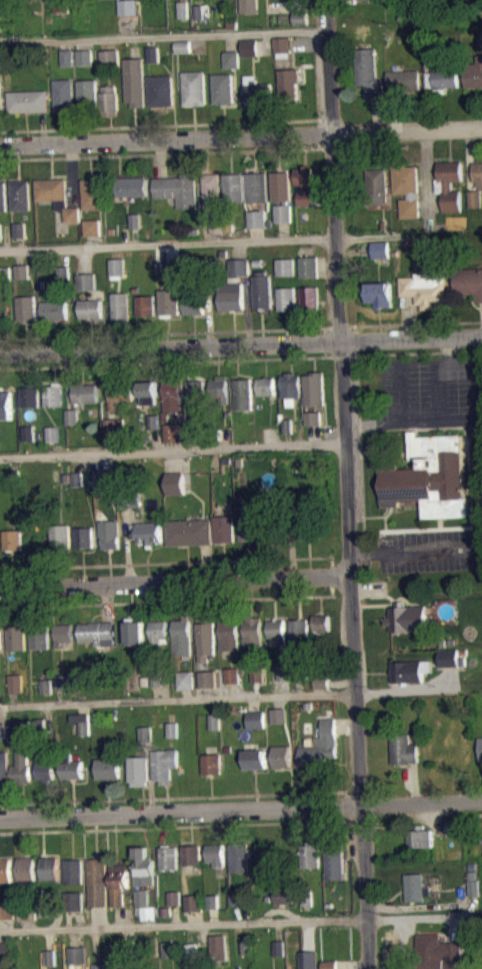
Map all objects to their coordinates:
building: (369, 0)
building: (110, 2)
building: (248, 5)
road: (298, 5)
building: (61, 6)
building: (128, 7)
building: (182, 8)
building: (198, 11)
building: (300, 17)
building: (231, 24)
building: (301, 24)
road: (163, 36)
building: (481, 38)
road: (109, 43)
road: (309, 43)
road: (67, 44)
road: (83, 44)
road: (265, 44)
building: (182, 46)
building: (282, 46)
road: (134, 47)
building: (249, 47)
building: (183, 52)
building: (152, 53)
building: (83, 56)
building: (67, 57)
building: (109, 58)
building: (230, 59)
building: (1, 60)
building: (85, 63)
building: (0, 67)
building: (369, 73)
building: (474, 74)
building: (441, 79)
building: (402, 80)
building: (134, 81)
building: (288, 84)
building: (194, 88)
building: (222, 88)
building: (160, 90)
building: (256, 90)
building: (1, 94)
building: (87, 94)
building: (63, 95)
building: (108, 101)
building: (28, 102)
road: (430, 109)
road: (393, 112)
road: (376, 115)
road: (160, 124)
road: (321, 133)
road: (241, 136)
road: (161, 152)
road: (159, 158)
road: (469, 159)
building: (477, 174)
road: (71, 175)
road: (426, 178)
building: (304, 184)
building: (449, 184)
building: (131, 187)
building: (233, 187)
building: (376, 187)
building: (256, 188)
building: (407, 188)
building: (177, 189)
building: (211, 193)
building: (91, 194)
building: (281, 194)
building: (2, 196)
building: (20, 196)
building: (56, 197)
road: (323, 197)
building: (475, 198)
road: (349, 199)
road: (435, 203)
road: (423, 208)
building: (257, 218)
building: (134, 220)
building: (456, 222)
building: (215, 224)
road: (437, 226)
building: (91, 227)
building: (19, 228)
road: (283, 229)
building: (0, 230)
road: (257, 233)
building: (19, 236)
road: (92, 241)
road: (20, 242)
road: (168, 243)
building: (381, 248)
road: (238, 249)
road: (355, 250)
road: (171, 252)
road: (84, 259)
building: (257, 262)
building: (239, 266)
building: (308, 266)
road: (327, 266)
building: (117, 267)
building: (285, 267)
building: (171, 268)
building: (21, 270)
building: (5, 272)
building: (62, 272)
building: (22, 277)
building: (63, 280)
building: (86, 281)
building: (469, 283)
building: (208, 284)
building: (262, 289)
building: (426, 289)
building: (230, 295)
building: (380, 295)
building: (310, 297)
building: (286, 298)
building: (167, 302)
building: (193, 303)
building: (120, 305)
building: (144, 305)
building: (25, 307)
building: (89, 308)
road: (247, 308)
building: (54, 310)
building: (4, 313)
road: (408, 316)
road: (209, 319)
road: (411, 322)
road: (170, 333)
road: (356, 340)
road: (324, 341)
road: (241, 344)
road: (419, 352)
road: (171, 361)
road: (67, 379)
building: (265, 385)
building: (290, 387)
building: (314, 387)
road: (438, 387)
building: (219, 389)
building: (147, 391)
building: (195, 391)
building: (85, 392)
building: (119, 392)
building: (242, 392)
building: (52, 393)
road: (401, 393)
parking lot: (433, 393)
building: (29, 394)
building: (172, 394)
building: (6, 403)
building: (71, 415)
building: (313, 417)
road: (467, 419)
building: (152, 421)
building: (113, 425)
building: (288, 425)
building: (153, 429)
building: (196, 431)
building: (171, 432)
building: (28, 433)
building: (52, 433)
road: (314, 434)
road: (360, 446)
road: (173, 449)
building: (226, 460)
building: (239, 461)
building: (431, 476)
building: (66, 477)
building: (76, 478)
building: (98, 478)
building: (174, 482)
road: (347, 484)
road: (469, 492)
building: (129, 497)
building: (125, 507)
road: (383, 516)
road: (439, 522)
building: (305, 526)
building: (224, 527)
road: (386, 527)
building: (260, 529)
building: (188, 531)
building: (109, 532)
building: (149, 532)
building: (60, 536)
building: (83, 537)
building: (12, 539)
road: (127, 545)
road: (415, 549)
parking lot: (430, 549)
road: (293, 557)
road: (275, 559)
road: (165, 561)
road: (206, 562)
road: (332, 575)
road: (175, 582)
road: (367, 587)
road: (166, 601)
road: (107, 603)
building: (408, 617)
building: (322, 622)
building: (134, 630)
building: (253, 630)
building: (277, 630)
building: (300, 630)
building: (158, 631)
building: (97, 633)
building: (62, 634)
building: (229, 634)
building: (39, 636)
building: (16, 637)
building: (181, 637)
building: (205, 637)
building: (1, 641)
building: (451, 657)
building: (411, 669)
building: (285, 671)
building: (300, 671)
building: (257, 673)
building: (232, 674)
building: (156, 678)
building: (207, 678)
building: (186, 679)
road: (342, 680)
building: (143, 681)
building: (322, 681)
building: (16, 682)
building: (62, 682)
building: (46, 686)
road: (285, 687)
road: (299, 687)
road: (256, 688)
road: (234, 689)
building: (47, 692)
road: (156, 692)
road: (208, 692)
road: (187, 694)
road: (62, 696)
road: (229, 697)
road: (252, 703)
road: (214, 705)
building: (309, 705)
road: (0, 713)
building: (256, 718)
building: (214, 720)
building: (82, 721)
building: (40, 724)
road: (346, 724)
building: (21, 727)
building: (215, 727)
building: (2, 729)
building: (172, 729)
building: (145, 733)
building: (321, 745)
building: (480, 747)
building: (227, 748)
building: (404, 748)
building: (283, 755)
building: (255, 758)
building: (211, 763)
building: (166, 764)
building: (72, 765)
building: (21, 766)
building: (108, 767)
building: (4, 768)
building: (46, 768)
building: (138, 770)
road: (151, 776)
road: (414, 781)
road: (180, 797)
road: (241, 809)
road: (480, 814)
road: (423, 819)
road: (181, 826)
building: (453, 827)
building: (419, 837)
building: (215, 853)
building: (192, 854)
building: (310, 854)
building: (240, 856)
building: (168, 857)
building: (335, 858)
building: (144, 866)
building: (49, 867)
building: (5, 869)
building: (74, 870)
building: (26, 871)
building: (471, 873)
building: (97, 881)
building: (118, 883)
building: (415, 886)
building: (473, 886)
building: (285, 894)
building: (142, 896)
building: (240, 896)
building: (173, 897)
building: (308, 898)
building: (76, 900)
building: (214, 901)
building: (194, 902)
building: (175, 904)
road: (425, 906)
building: (7, 908)
building: (47, 908)
building: (214, 908)
building: (138, 909)
building: (27, 910)
building: (167, 910)
road: (278, 910)
road: (464, 915)
road: (99, 916)
road: (118, 916)
road: (214, 916)
road: (421, 918)
road: (79, 919)
road: (5, 924)
road: (27, 924)
road: (183, 924)
road: (150, 930)
road: (277, 930)
road: (129, 932)
road: (168, 933)
road: (190, 933)
road: (307, 935)
road: (77, 937)
road: (51, 939)
road: (96, 944)
building: (129, 945)
building: (150, 945)
road: (401, 945)
building: (219, 946)
building: (246, 946)
building: (278, 947)
building: (7, 949)
building: (169, 949)
building: (192, 950)
building: (435, 952)
building: (247, 953)
building: (77, 954)
building: (51, 956)
building: (309, 959)
building: (330, 963)
building: (99, 965)
road: (353, 965)

